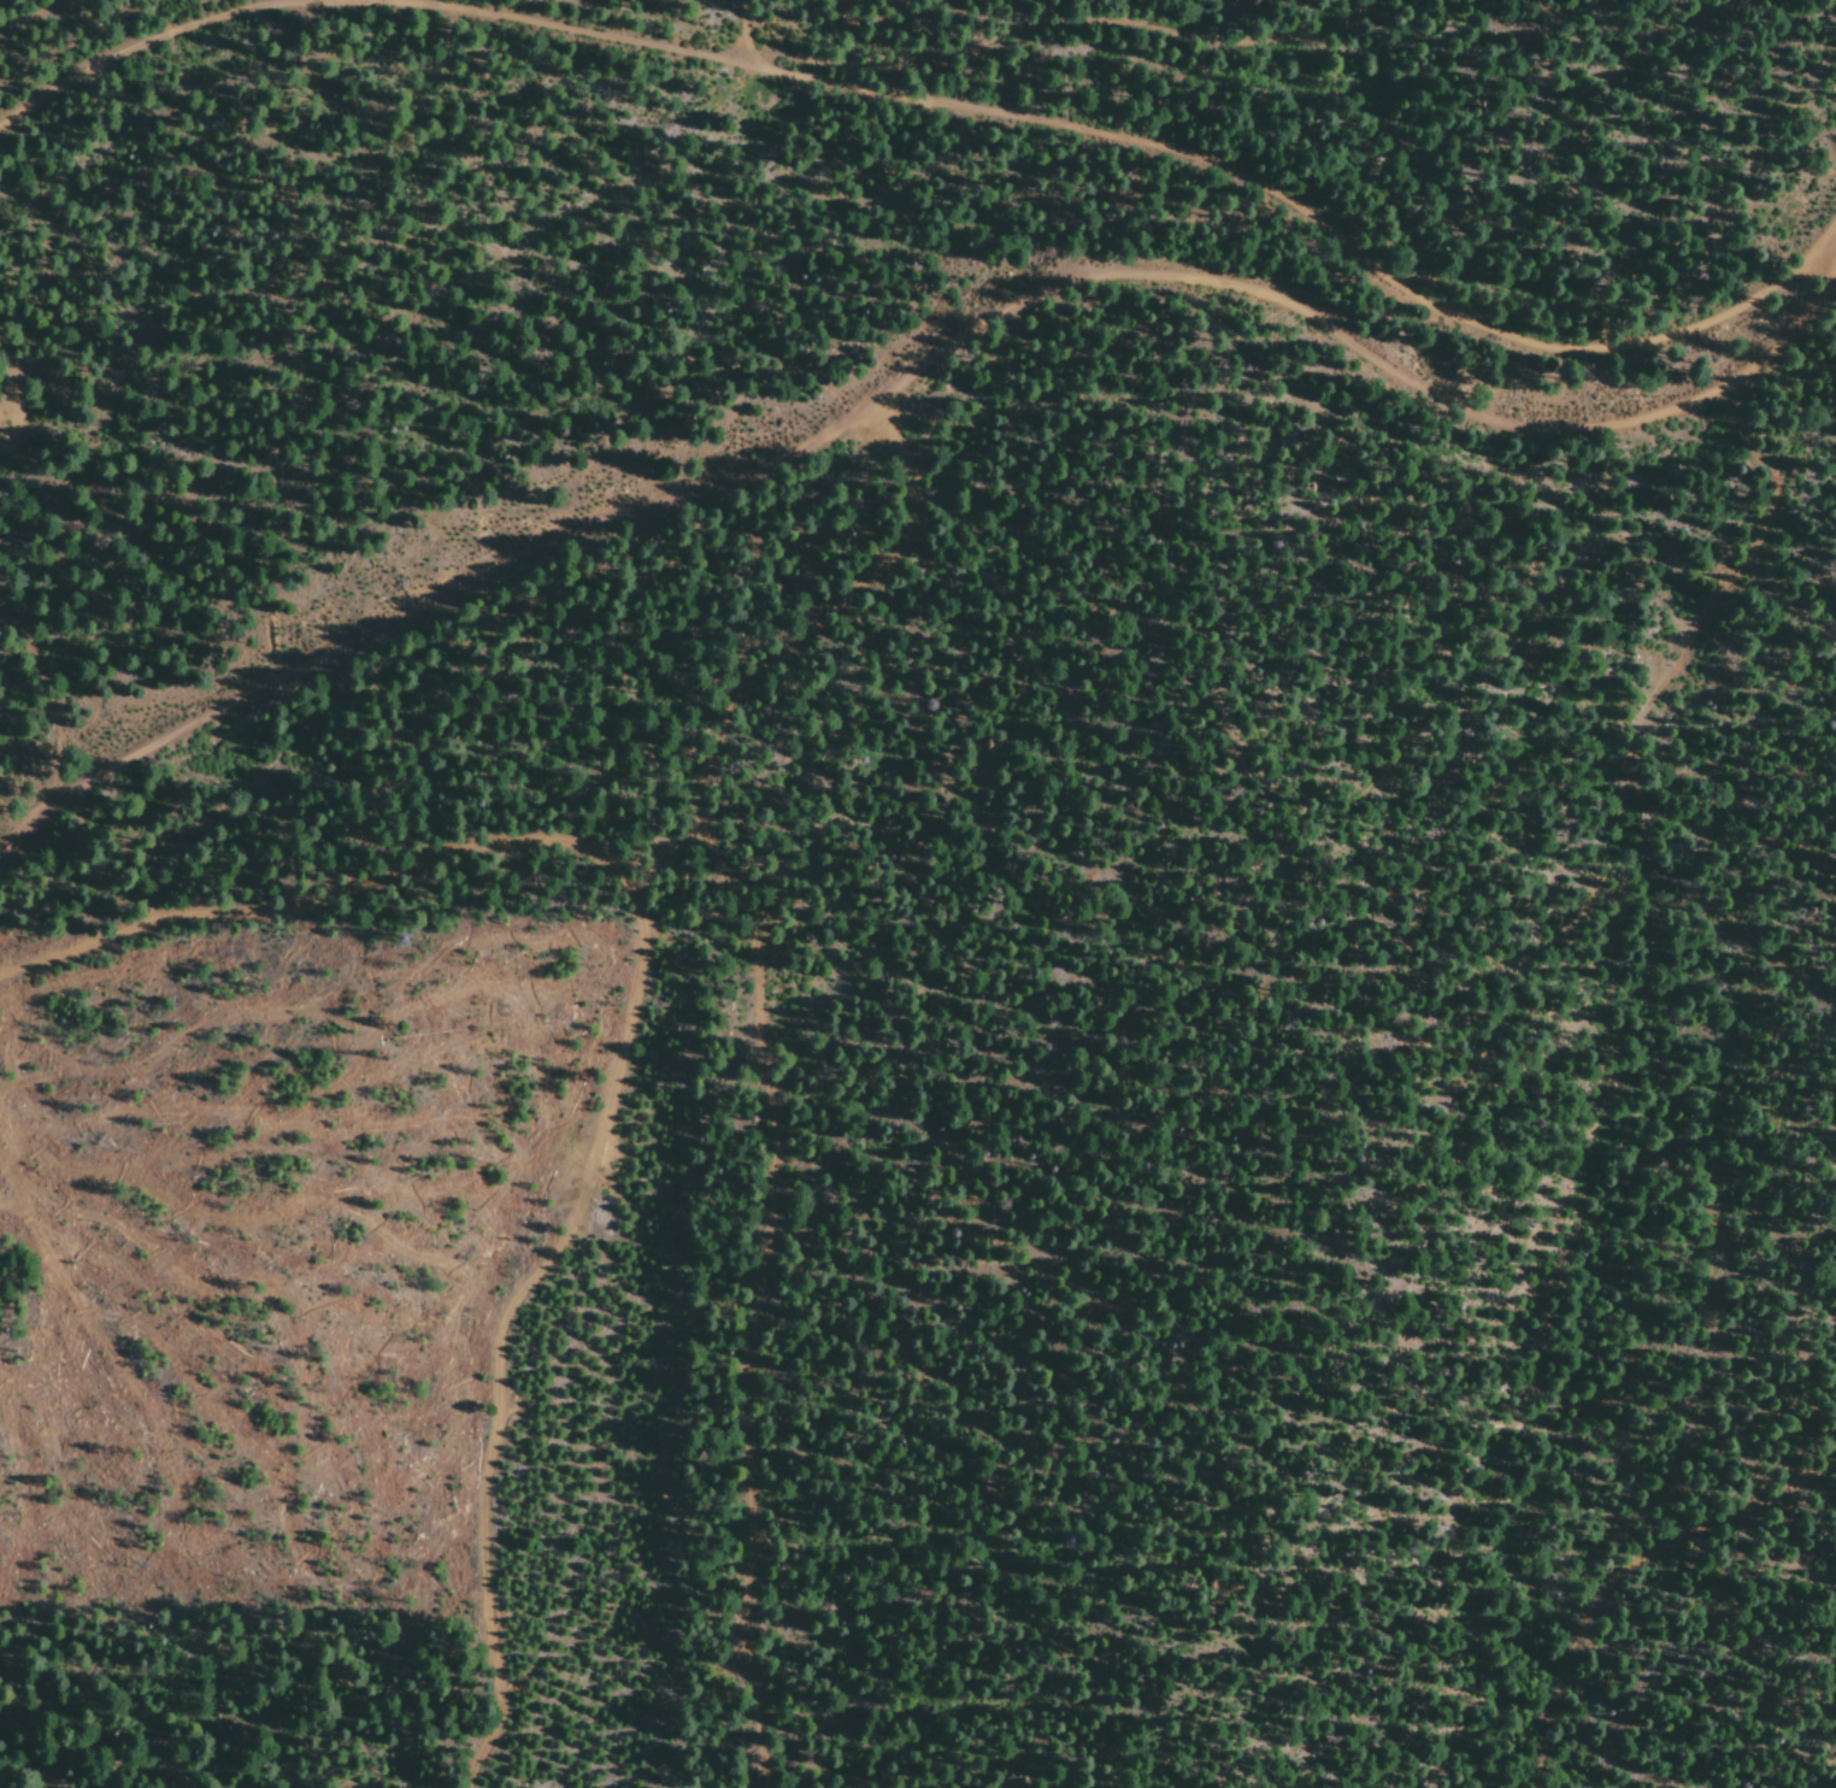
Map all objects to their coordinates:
road: (511, 8)
road: (17, 10)
road: (682, 48)
road: (910, 57)
road: (920, 366)
road: (12, 754)
road: (712, 793)
road: (390, 878)

